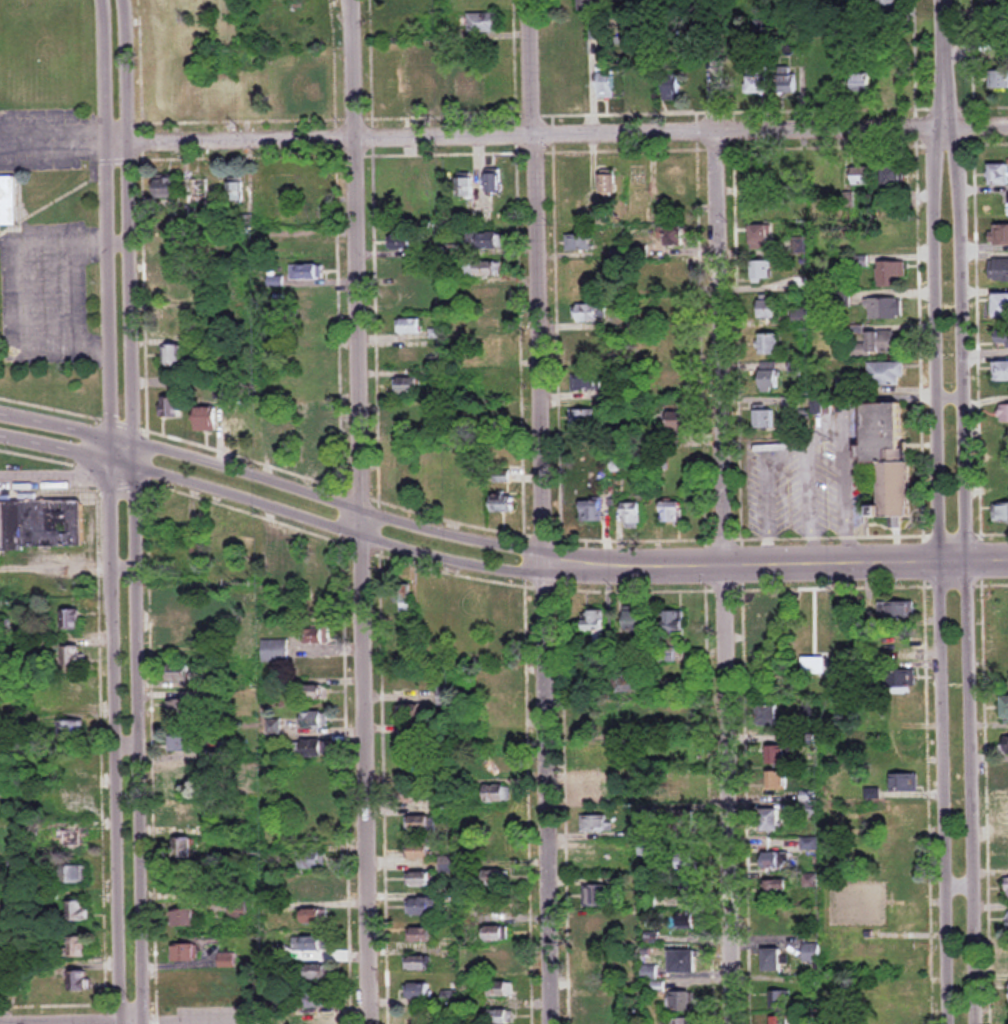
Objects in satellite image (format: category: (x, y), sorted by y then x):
building: (401, 2)
road: (352, 3)
building: (482, 4)
building: (998, 4)
building: (587, 5)
building: (886, 6)
building: (483, 23)
building: (217, 29)
building: (578, 30)
building: (598, 31)
building: (167, 36)
road: (941, 64)
building: (757, 80)
building: (1001, 80)
building: (892, 81)
building: (606, 82)
building: (861, 82)
building: (787, 83)
building: (422, 86)
building: (462, 87)
building: (673, 87)
building: (491, 89)
building: (313, 91)
building: (394, 91)
building: (256, 92)
building: (575, 94)
building: (160, 95)
building: (189, 95)
road: (556, 136)
road: (52, 142)
building: (999, 174)
building: (863, 175)
building: (894, 175)
building: (788, 176)
building: (825, 176)
building: (759, 178)
building: (492, 182)
building: (609, 184)
building: (166, 188)
building: (395, 188)
building: (464, 188)
building: (235, 191)
building: (424, 193)
building: (4, 196)
building: (599, 217)
building: (406, 219)
road: (128, 222)
road: (105, 229)
building: (998, 235)
building: (675, 236)
building: (760, 237)
building: (484, 239)
building: (578, 243)
building: (405, 244)
building: (638, 252)
building: (481, 268)
building: (408, 270)
building: (674, 271)
building: (762, 271)
building: (305, 272)
building: (891, 274)
building: (582, 278)
building: (173, 285)
road: (60, 289)
building: (488, 296)
building: (408, 297)
building: (304, 301)
building: (1001, 305)
building: (768, 307)
building: (884, 308)
building: (669, 311)
building: (585, 313)
building: (174, 320)
building: (484, 325)
building: (407, 326)
building: (307, 328)
building: (1002, 338)
building: (769, 344)
building: (878, 345)
building: (669, 346)
building: (588, 348)
building: (174, 355)
building: (309, 356)
building: (1000, 371)
building: (886, 374)
building: (769, 377)
building: (671, 381)
building: (585, 382)
building: (406, 385)
building: (311, 387)
building: (170, 407)
building: (1003, 413)
building: (306, 414)
building: (581, 417)
building: (205, 419)
building: (763, 419)
building: (405, 420)
road: (67, 428)
building: (676, 429)
building: (240, 430)
building: (283, 442)
road: (55, 447)
building: (317, 453)
building: (889, 457)
building: (660, 462)
building: (617, 464)
building: (401, 471)
road: (67, 478)
building: (432, 489)
building: (469, 497)
building: (502, 504)
road: (338, 505)
road: (541, 511)
building: (591, 511)
road: (357, 512)
building: (672, 514)
building: (1001, 514)
building: (631, 515)
building: (40, 524)
road: (326, 524)
road: (720, 526)
building: (233, 542)
building: (285, 558)
road: (775, 564)
road: (921, 566)
road: (936, 575)
road: (966, 575)
building: (403, 600)
building: (433, 602)
building: (178, 603)
building: (314, 608)
building: (471, 610)
building: (896, 610)
building: (503, 618)
building: (814, 619)
building: (72, 620)
building: (635, 620)
building: (773, 620)
building: (673, 624)
building: (594, 625)
building: (410, 631)
building: (315, 635)
building: (176, 638)
building: (904, 643)
building: (274, 650)
building: (74, 657)
building: (179, 672)
building: (1005, 676)
building: (499, 682)
building: (900, 682)
building: (408, 683)
building: (313, 692)
building: (73, 693)
building: (444, 697)
building: (1005, 708)
building: (180, 709)
building: (499, 710)
building: (409, 711)
building: (903, 713)
building: (768, 715)
building: (684, 717)
building: (587, 718)
building: (313, 721)
building: (70, 730)
road: (141, 734)
building: (415, 739)
road: (114, 741)
building: (182, 744)
building: (1005, 745)
building: (310, 749)
building: (591, 752)
building: (777, 756)
building: (76, 763)
road: (982, 763)
building: (496, 766)
building: (414, 768)
building: (315, 776)
building: (182, 780)
building: (776, 781)
building: (1005, 781)
building: (905, 783)
building: (592, 789)
building: (497, 795)
building: (416, 800)
building: (72, 803)
building: (312, 804)
building: (182, 813)
building: (1007, 813)
building: (904, 819)
building: (770, 821)
building: (497, 822)
building: (685, 822)
building: (419, 824)
building: (595, 824)
building: (311, 832)
building: (274, 837)
building: (73, 839)
building: (182, 849)
building: (494, 850)
building: (420, 852)
building: (905, 853)
building: (597, 858)
building: (313, 860)
building: (775, 862)
building: (445, 864)
building: (686, 864)
building: (75, 875)
building: (495, 878)
building: (420, 879)
building: (180, 883)
building: (314, 888)
building: (908, 888)
building: (1007, 889)
building: (598, 896)
building: (866, 896)
building: (776, 904)
building: (422, 907)
building: (78, 912)
building: (313, 916)
building: (185, 919)
building: (1007, 921)
building: (688, 922)
building: (599, 928)
building: (495, 934)
building: (421, 935)
building: (310, 944)
building: (78, 947)
building: (186, 953)
building: (811, 953)
building: (227, 960)
building: (772, 961)
building: (683, 962)
building: (418, 963)
building: (500, 963)
building: (598, 964)
building: (317, 972)
building: (78, 982)
building: (501, 990)
building: (418, 992)
building: (595, 999)
building: (319, 1000)
building: (680, 1002)
building: (780, 1002)
building: (500, 1017)
building: (419, 1018)
building: (781, 1020)
building: (910, 1021)
building: (679, 1022)
road: (222, 1023)
building: (320, 1023)

